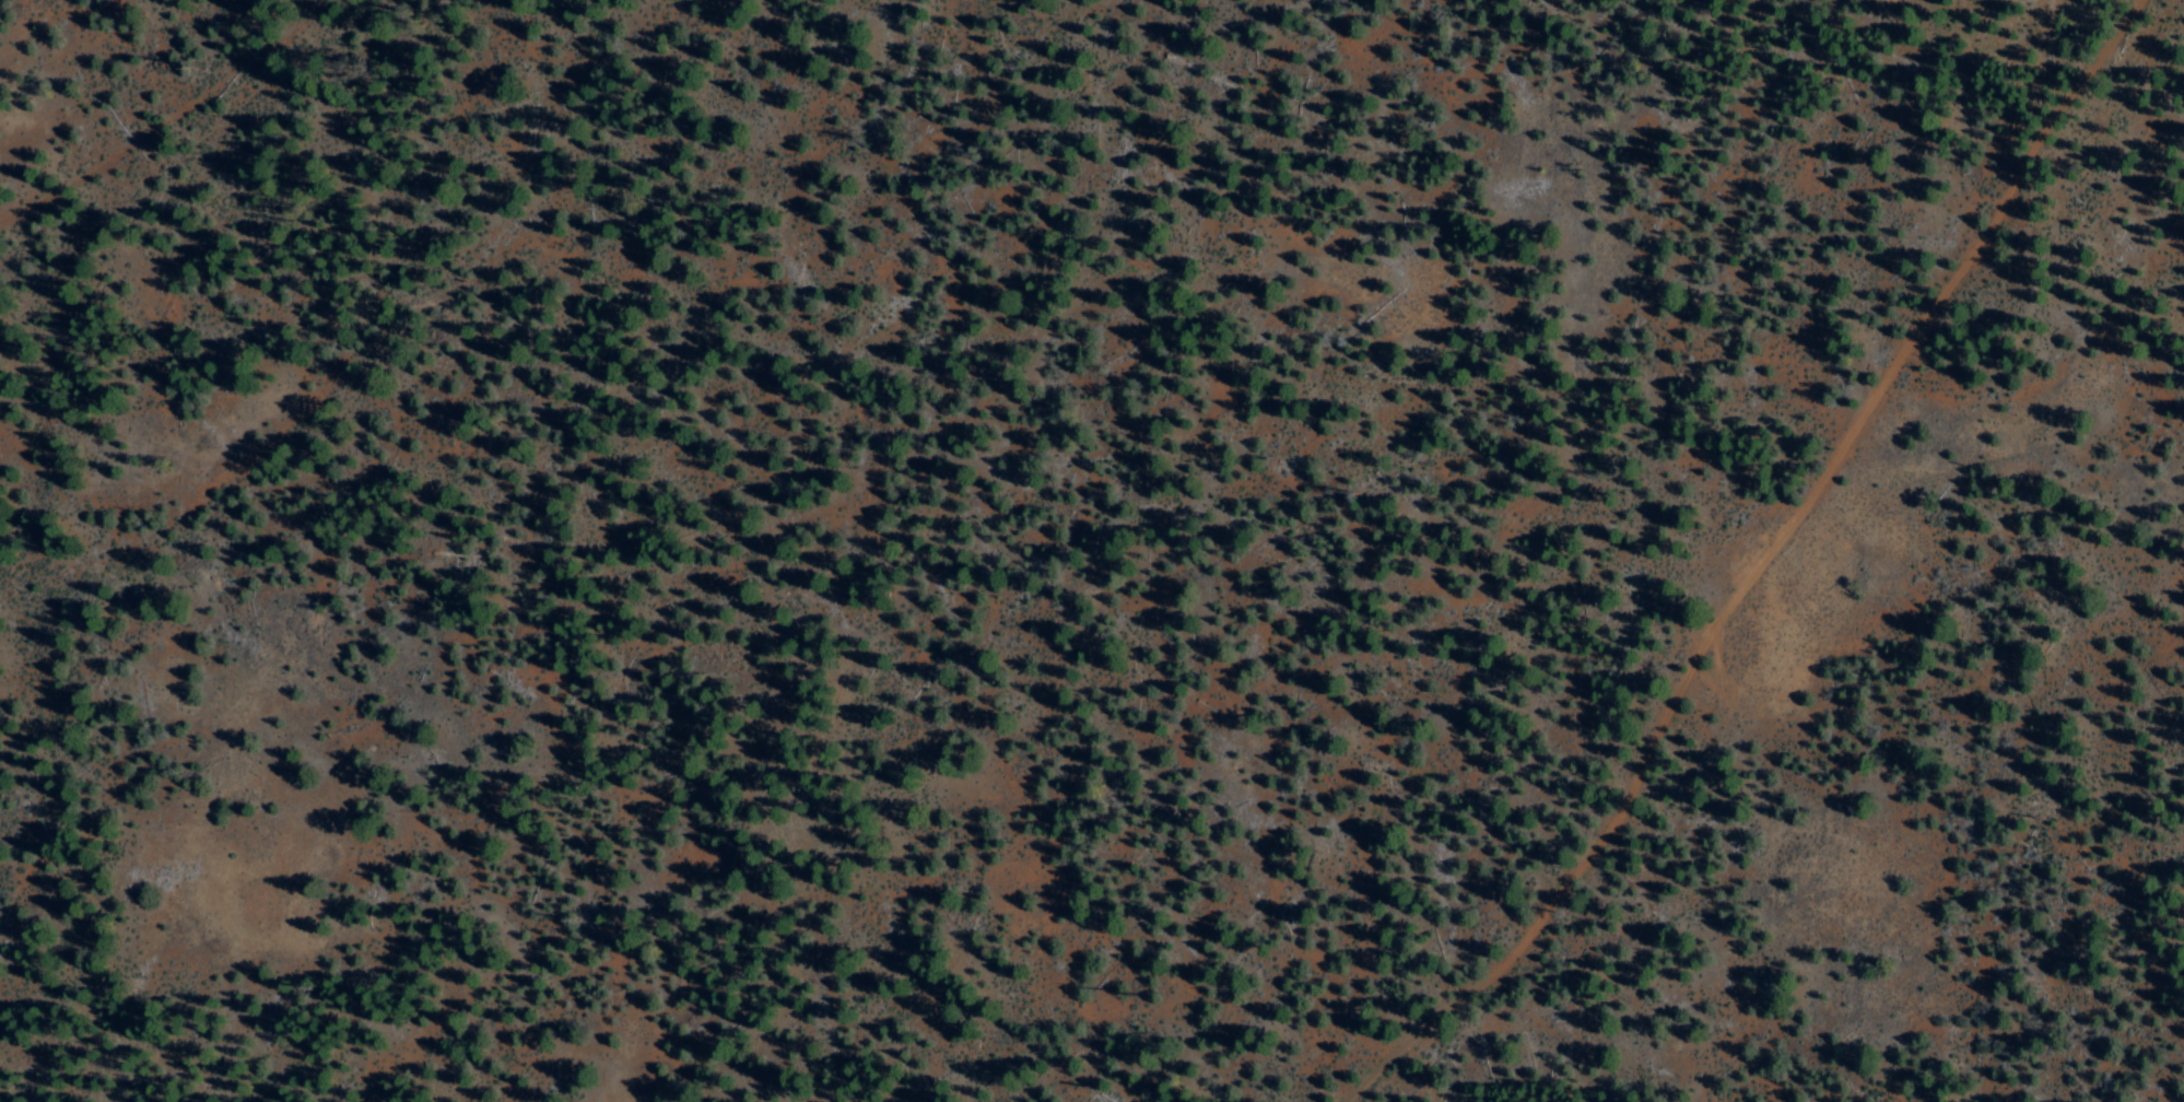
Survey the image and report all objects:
road: (171, 122)
road: (1766, 568)

